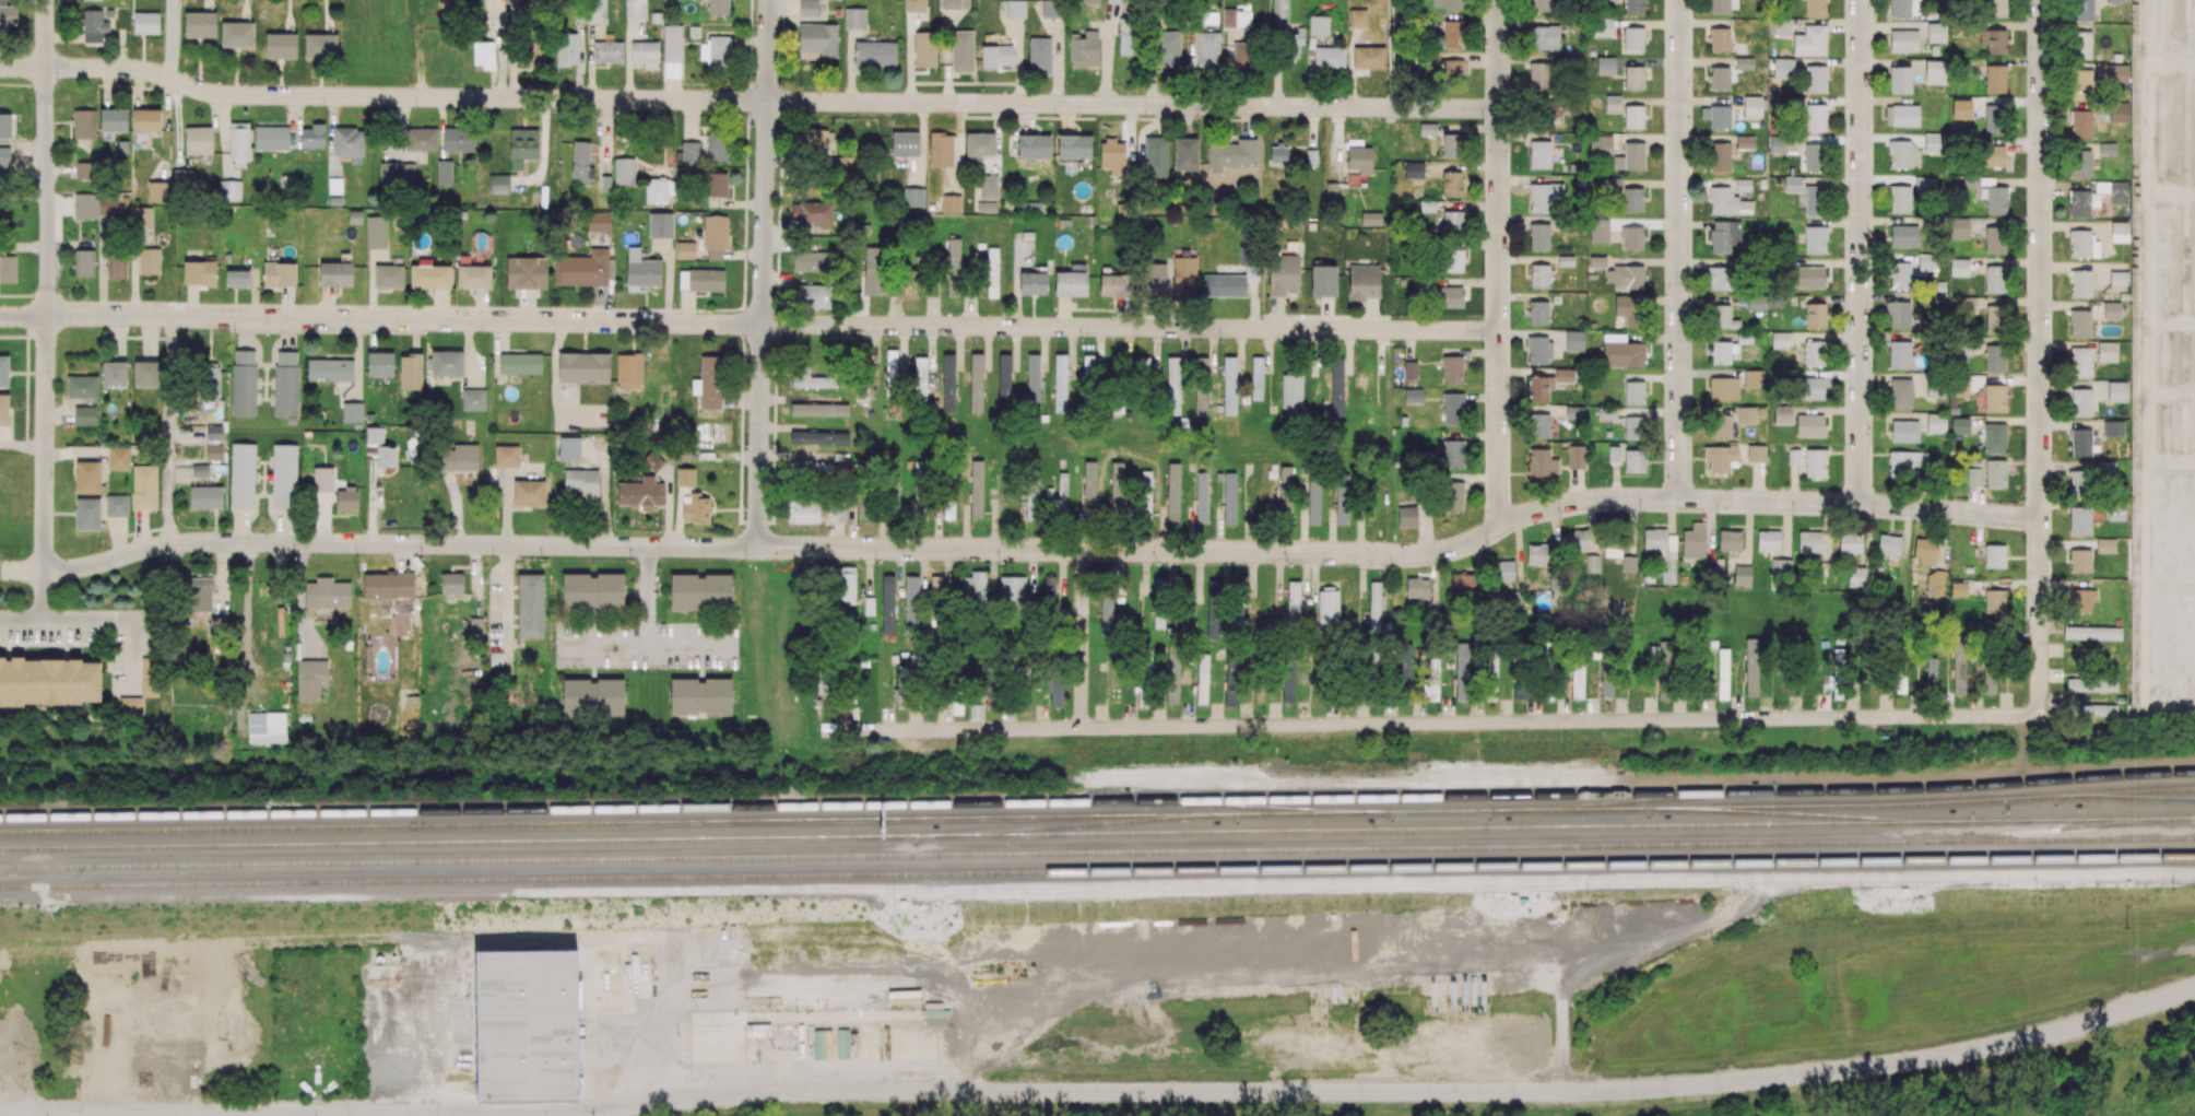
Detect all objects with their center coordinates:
road: (174, 39)
road: (1391, 54)
road: (747, 99)
road: (23, 200)
road: (1679, 249)
road: (1860, 251)
road: (1499, 261)
road: (763, 273)
road: (47, 284)
road: (748, 324)
road: (2041, 356)
road: (172, 431)
road: (1768, 500)
road: (752, 547)
road: (645, 596)
road: (42, 613)
road: (111, 619)
road: (1082, 638)
road: (647, 645)
road: (1430, 723)
railway: (2121, 796)
railway: (2020, 798)
railway: (1633, 800)
railway: (1097, 801)
railway: (1244, 806)
railway: (2020, 808)
railway: (1797, 817)
railway: (922, 820)
railway: (2022, 831)
railway: (1097, 833)
railway: (1097, 850)
railway: (1719, 864)
railway: (621, 876)
road: (1102, 1092)
road: (29, 1115)

